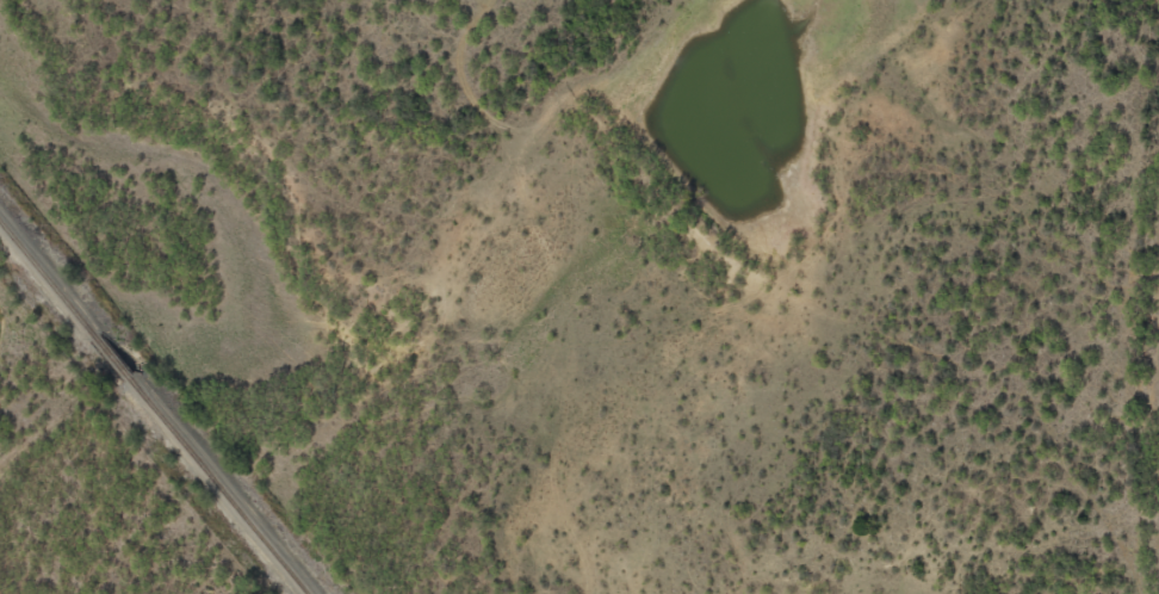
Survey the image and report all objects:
railway: (153, 408)

